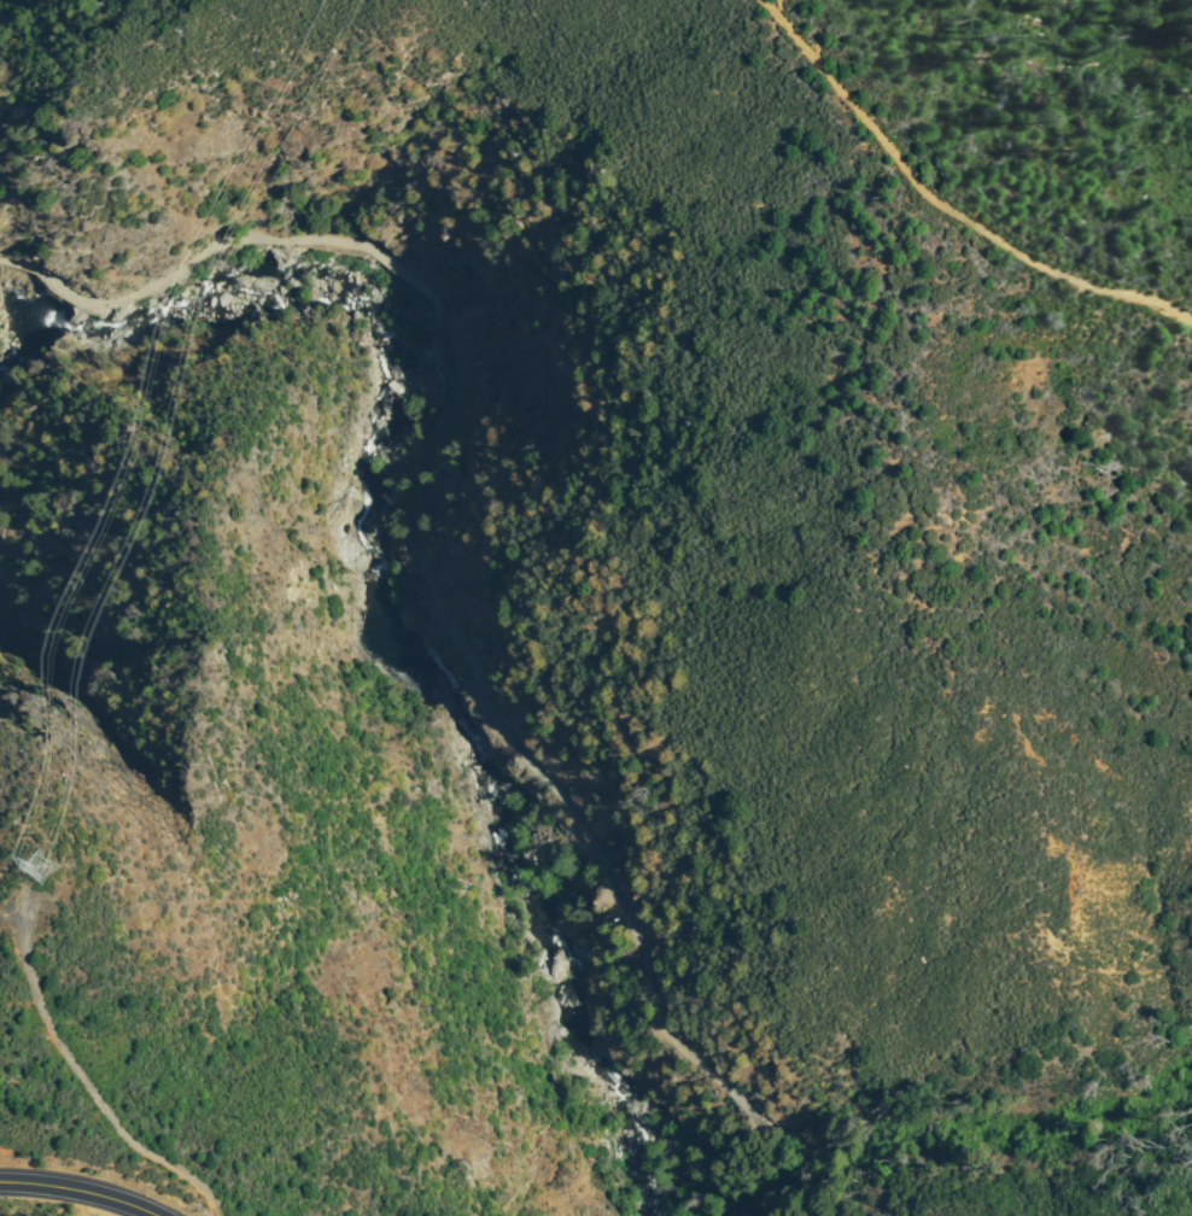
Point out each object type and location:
road: (936, 209)
road: (428, 589)
river: (368, 633)
power tower: (34, 869)
road: (80, 1077)
road: (66, 1199)

